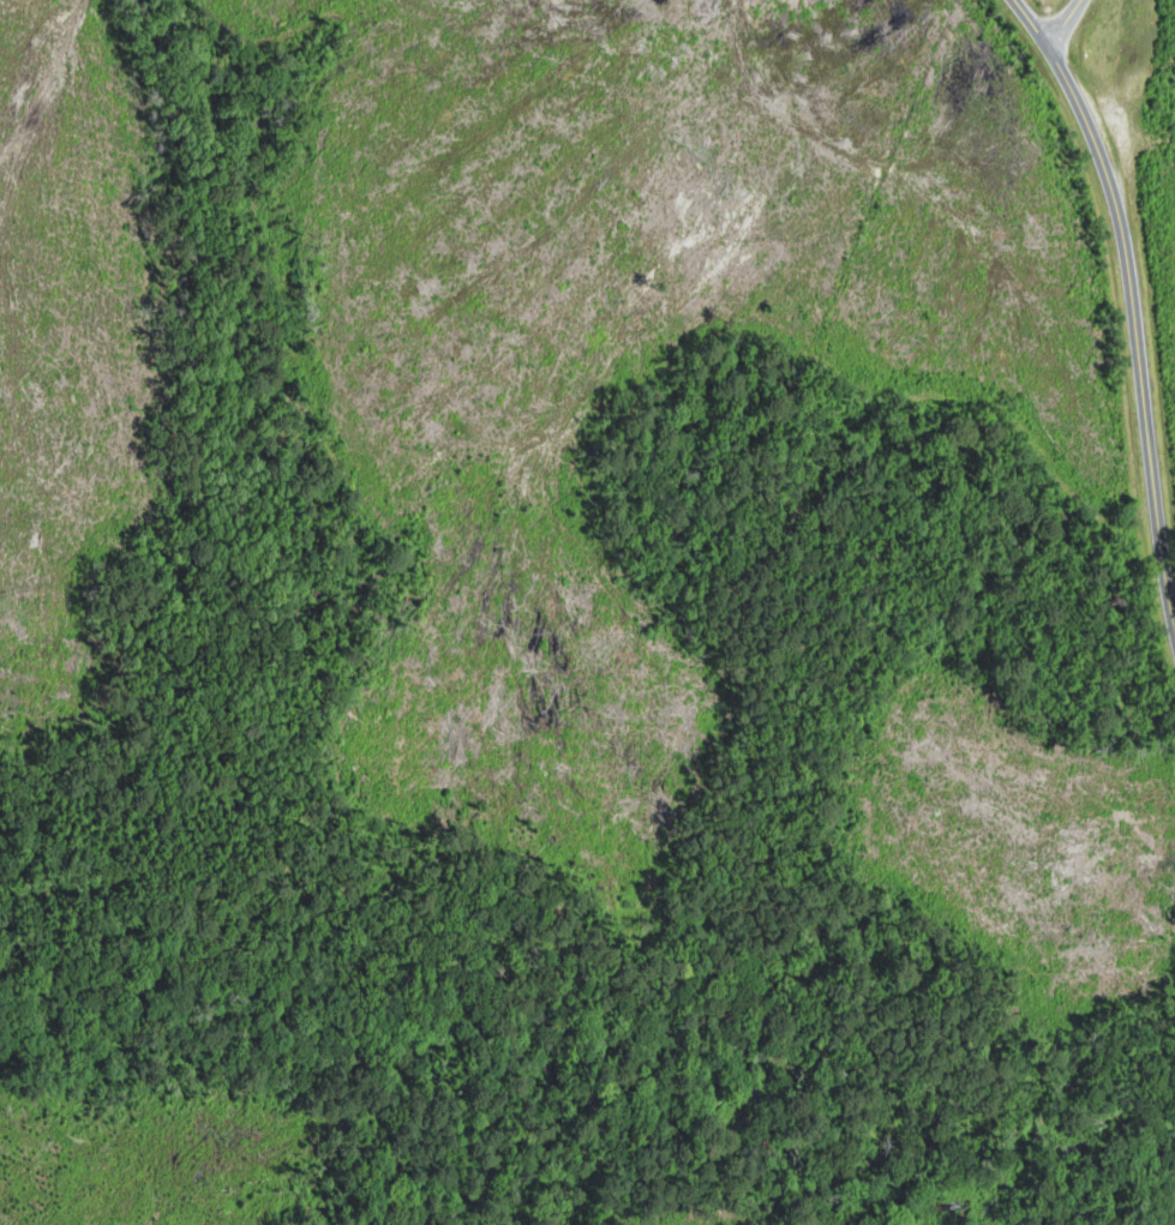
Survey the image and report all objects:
road: (1065, 23)
road: (1133, 301)

